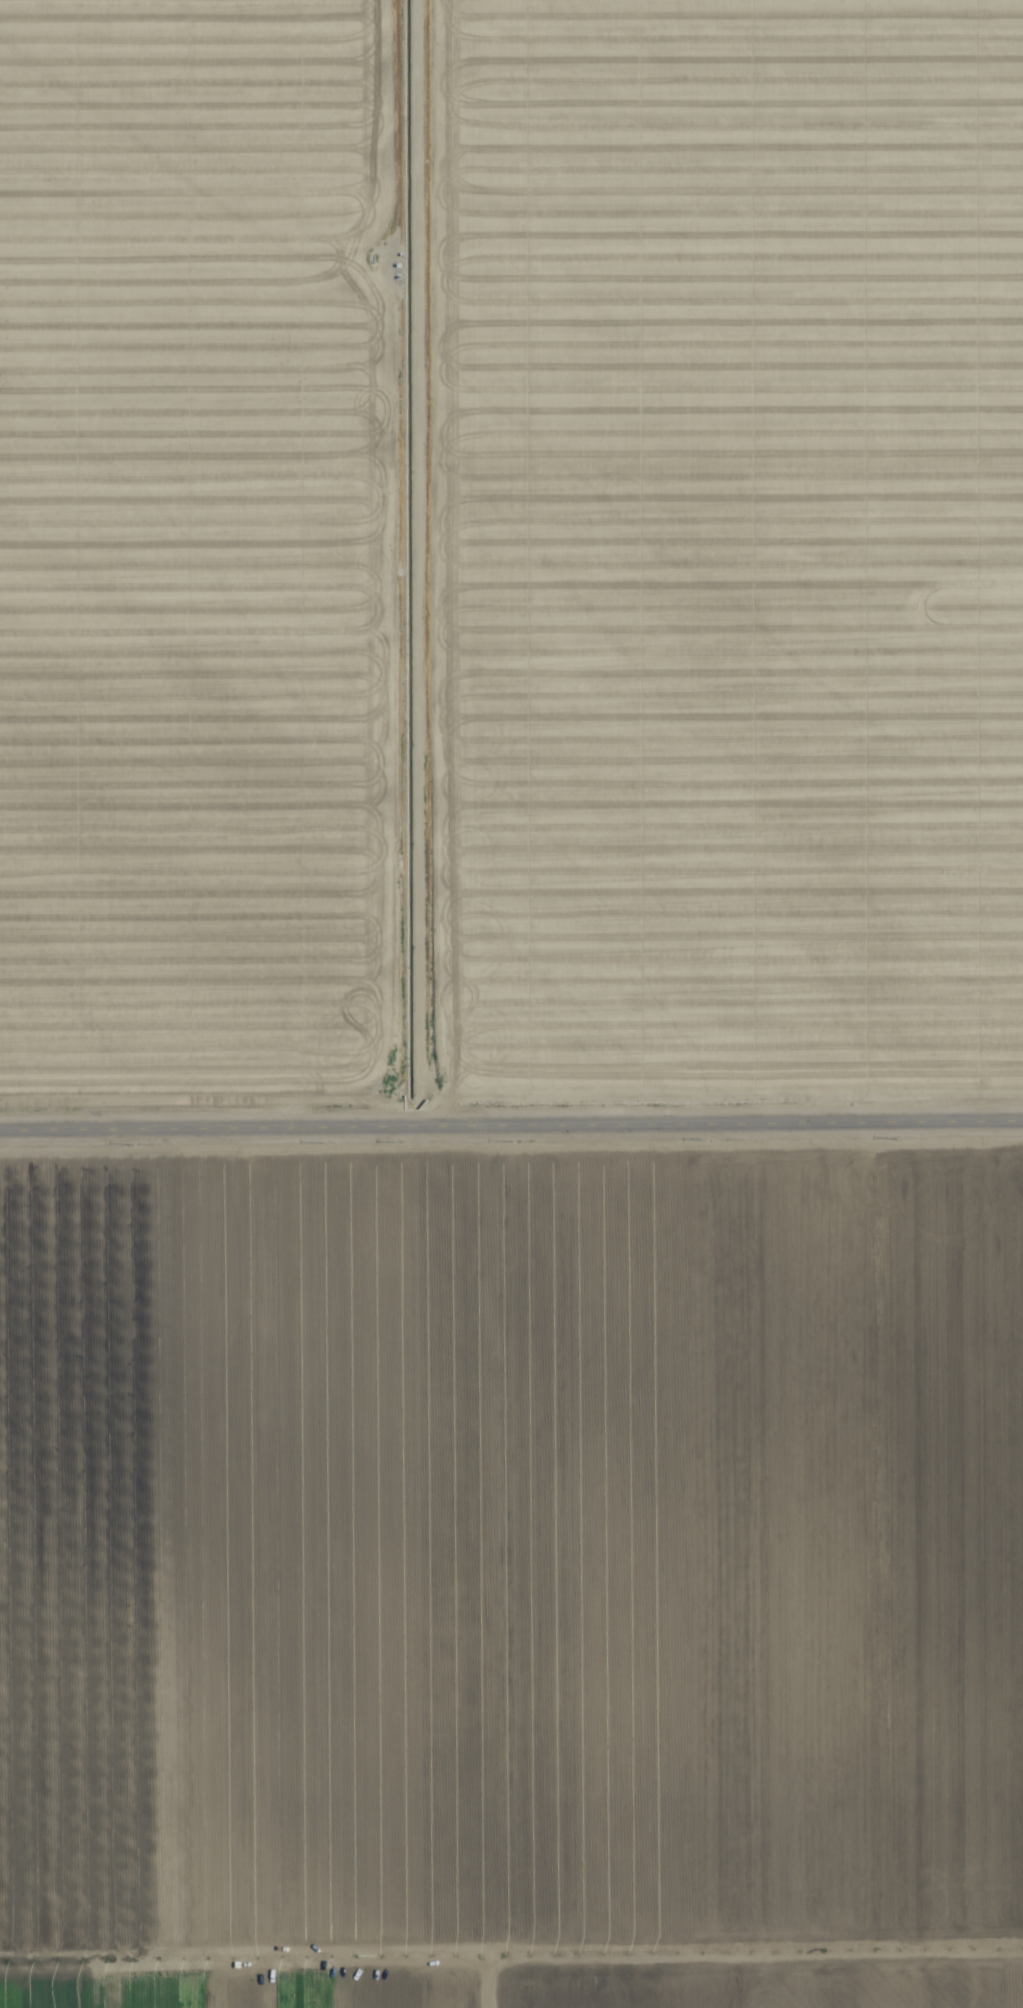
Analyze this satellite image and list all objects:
crop: (511, 1004)
road: (511, 1112)

